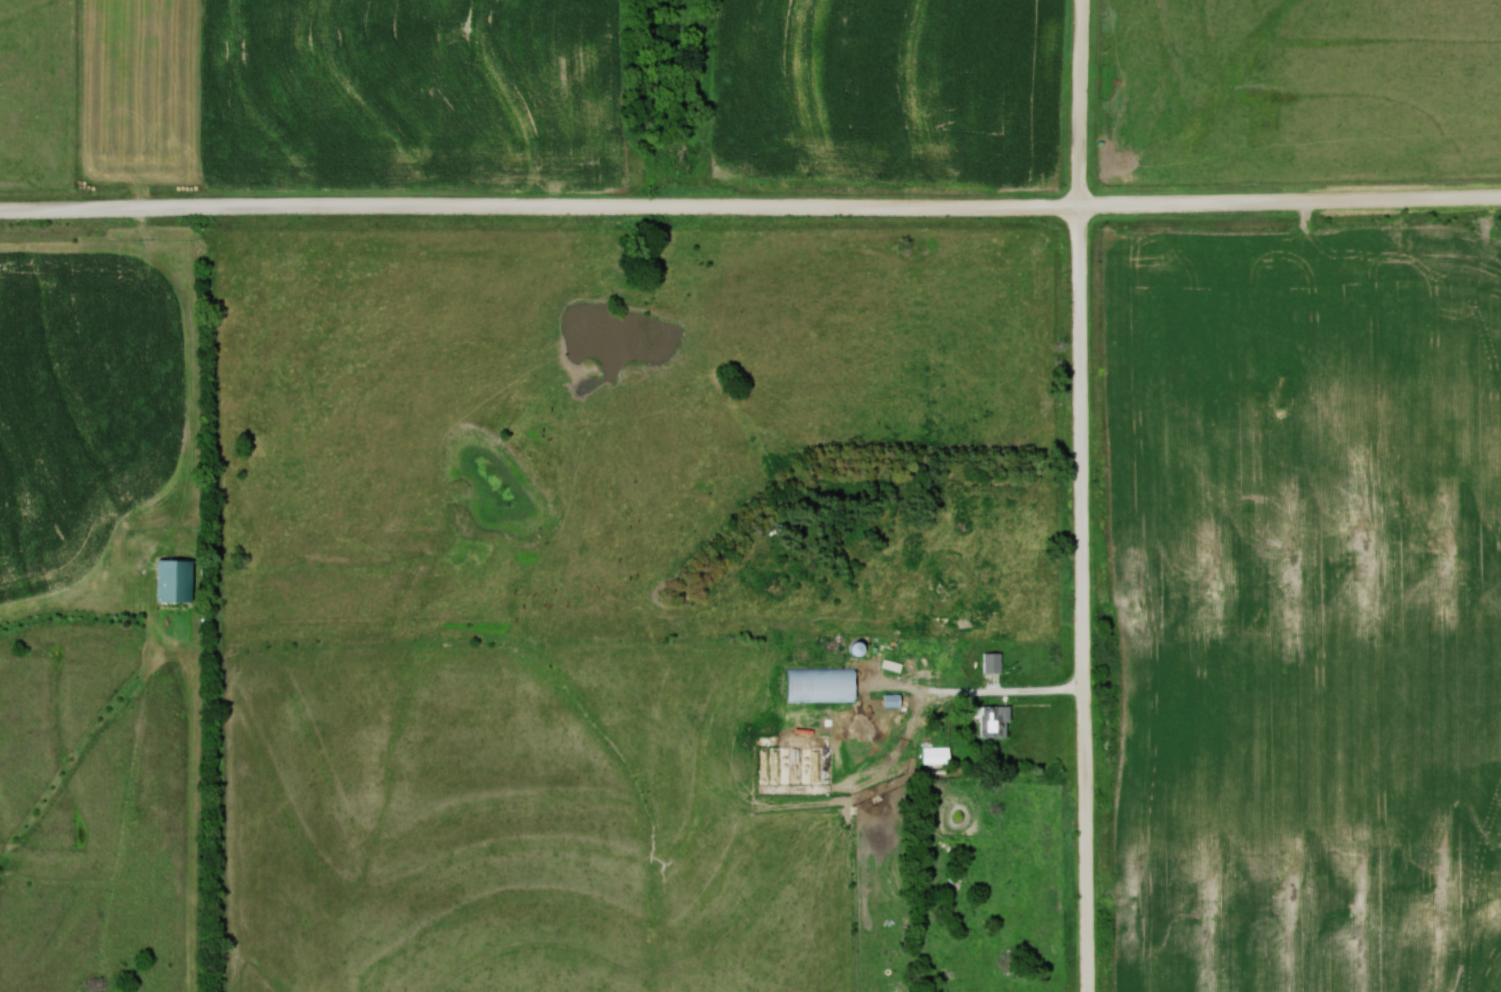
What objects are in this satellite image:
road: (750, 211)
road: (1082, 495)
building: (175, 580)
building: (993, 662)
building: (929, 667)
building: (821, 685)
road: (1008, 694)
building: (892, 701)
building: (995, 721)
road: (875, 731)
building: (937, 755)

